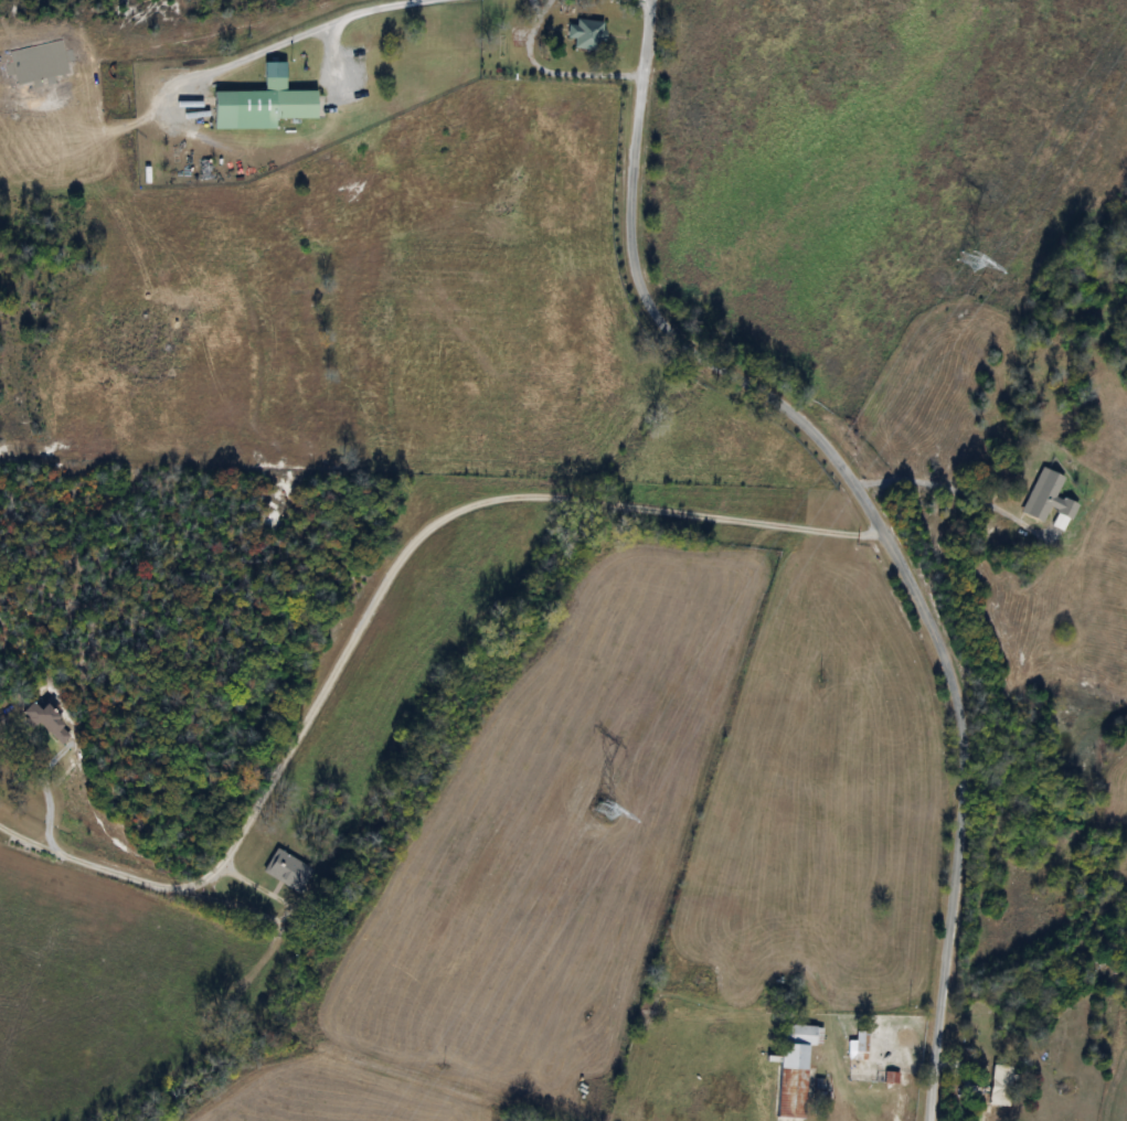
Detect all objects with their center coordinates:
road: (539, 12)
building: (584, 34)
road: (306, 35)
road: (562, 71)
building: (261, 107)
power tower: (967, 263)
road: (951, 490)
building: (1046, 499)
road: (874, 517)
road: (376, 596)
building: (45, 723)
building: (605, 812)
power tower: (603, 814)
building: (286, 872)
building: (859, 1046)
building: (1052, 1055)
building: (794, 1068)
building: (1000, 1085)
road: (836, 1097)

